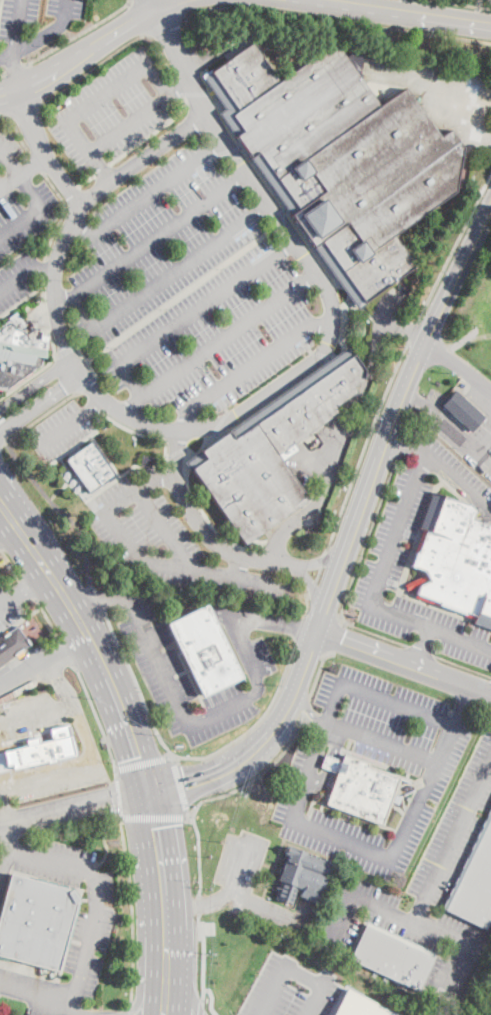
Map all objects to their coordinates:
road: (367, 2)
road: (154, 4)
road: (403, 4)
road: (462, 4)
road: (179, 9)
road: (416, 11)
road: (336, 18)
road: (137, 20)
parking lot: (34, 24)
road: (166, 26)
road: (17, 28)
road: (82, 34)
road: (42, 37)
road: (115, 49)
road: (87, 51)
road: (181, 62)
road: (18, 69)
road: (17, 72)
road: (3, 74)
road: (154, 81)
road: (177, 87)
road: (177, 88)
road: (437, 91)
road: (104, 94)
road: (196, 95)
road: (22, 108)
parking lot: (112, 110)
road: (125, 123)
road: (16, 132)
road: (155, 132)
road: (42, 150)
road: (86, 151)
building: (339, 159)
road: (36, 162)
road: (22, 172)
road: (19, 178)
road: (87, 180)
road: (146, 193)
road: (63, 210)
parking lot: (23, 221)
road: (20, 222)
road: (151, 239)
road: (455, 247)
road: (26, 276)
road: (163, 278)
parking lot: (187, 287)
road: (180, 294)
road: (191, 314)
road: (405, 326)
road: (414, 330)
road: (470, 332)
road: (464, 340)
road: (219, 342)
road: (64, 351)
building: (18, 352)
road: (53, 355)
road: (87, 360)
road: (250, 366)
road: (460, 367)
road: (88, 383)
road: (300, 383)
road: (35, 384)
road: (480, 390)
parking lot: (434, 395)
road: (412, 397)
road: (40, 404)
road: (489, 404)
road: (460, 405)
road: (94, 406)
building: (463, 411)
road: (466, 413)
road: (41, 414)
road: (472, 420)
road: (174, 428)
road: (61, 429)
parking lot: (58, 431)
road: (345, 431)
road: (142, 434)
road: (454, 434)
road: (2, 438)
road: (403, 438)
road: (80, 442)
road: (364, 445)
parking lot: (479, 445)
building: (272, 448)
road: (485, 450)
road: (175, 453)
building: (148, 461)
building: (90, 467)
parking lot: (456, 474)
road: (453, 477)
road: (56, 490)
road: (5, 502)
road: (61, 511)
road: (5, 512)
road: (5, 520)
road: (202, 528)
road: (398, 528)
road: (164, 529)
road: (355, 532)
road: (10, 537)
parking lot: (169, 541)
road: (327, 556)
building: (455, 557)
road: (324, 559)
road: (143, 561)
road: (10, 563)
road: (238, 566)
parking lot: (382, 569)
road: (356, 571)
road: (319, 574)
road: (33, 581)
building: (412, 584)
road: (28, 588)
road: (310, 588)
road: (315, 594)
road: (101, 595)
road: (9, 599)
road: (98, 599)
parking lot: (8, 604)
road: (306, 606)
road: (47, 620)
road: (274, 624)
road: (187, 625)
road: (300, 627)
road: (430, 628)
road: (335, 637)
building: (12, 644)
road: (92, 645)
road: (421, 646)
road: (420, 648)
building: (204, 650)
road: (25, 652)
road: (68, 654)
road: (44, 662)
road: (462, 662)
road: (406, 663)
road: (319, 671)
parking lot: (164, 673)
road: (60, 680)
road: (136, 685)
road: (464, 702)
road: (398, 703)
road: (35, 709)
road: (309, 709)
parking lot: (32, 712)
road: (304, 716)
road: (98, 722)
road: (198, 722)
road: (256, 723)
road: (300, 728)
road: (84, 733)
road: (381, 742)
building: (49, 748)
road: (317, 750)
road: (139, 761)
parking lot: (421, 762)
road: (330, 763)
road: (46, 764)
road: (45, 777)
parking lot: (52, 778)
road: (180, 785)
traffic signals: (149, 787)
building: (360, 787)
road: (118, 797)
road: (206, 799)
road: (74, 804)
road: (2, 810)
road: (152, 816)
road: (7, 833)
road: (70, 833)
road: (401, 836)
road: (9, 837)
road: (452, 840)
road: (107, 849)
road: (4, 861)
building: (301, 875)
road: (159, 883)
building: (475, 885)
parking lot: (235, 886)
parking lot: (427, 891)
road: (245, 896)
road: (95, 900)
road: (198, 903)
road: (198, 904)
road: (131, 910)
road: (341, 912)
building: (35, 921)
parking lot: (76, 921)
road: (415, 921)
road: (486, 940)
road: (202, 958)
building: (392, 958)
road: (460, 969)
road: (294, 970)
road: (5, 979)
parking lot: (290, 990)
road: (39, 993)
road: (182, 997)
road: (161, 998)
road: (209, 999)
road: (135, 1006)
building: (356, 1006)
road: (129, 1009)
road: (199, 1009)
road: (73, 1014)

